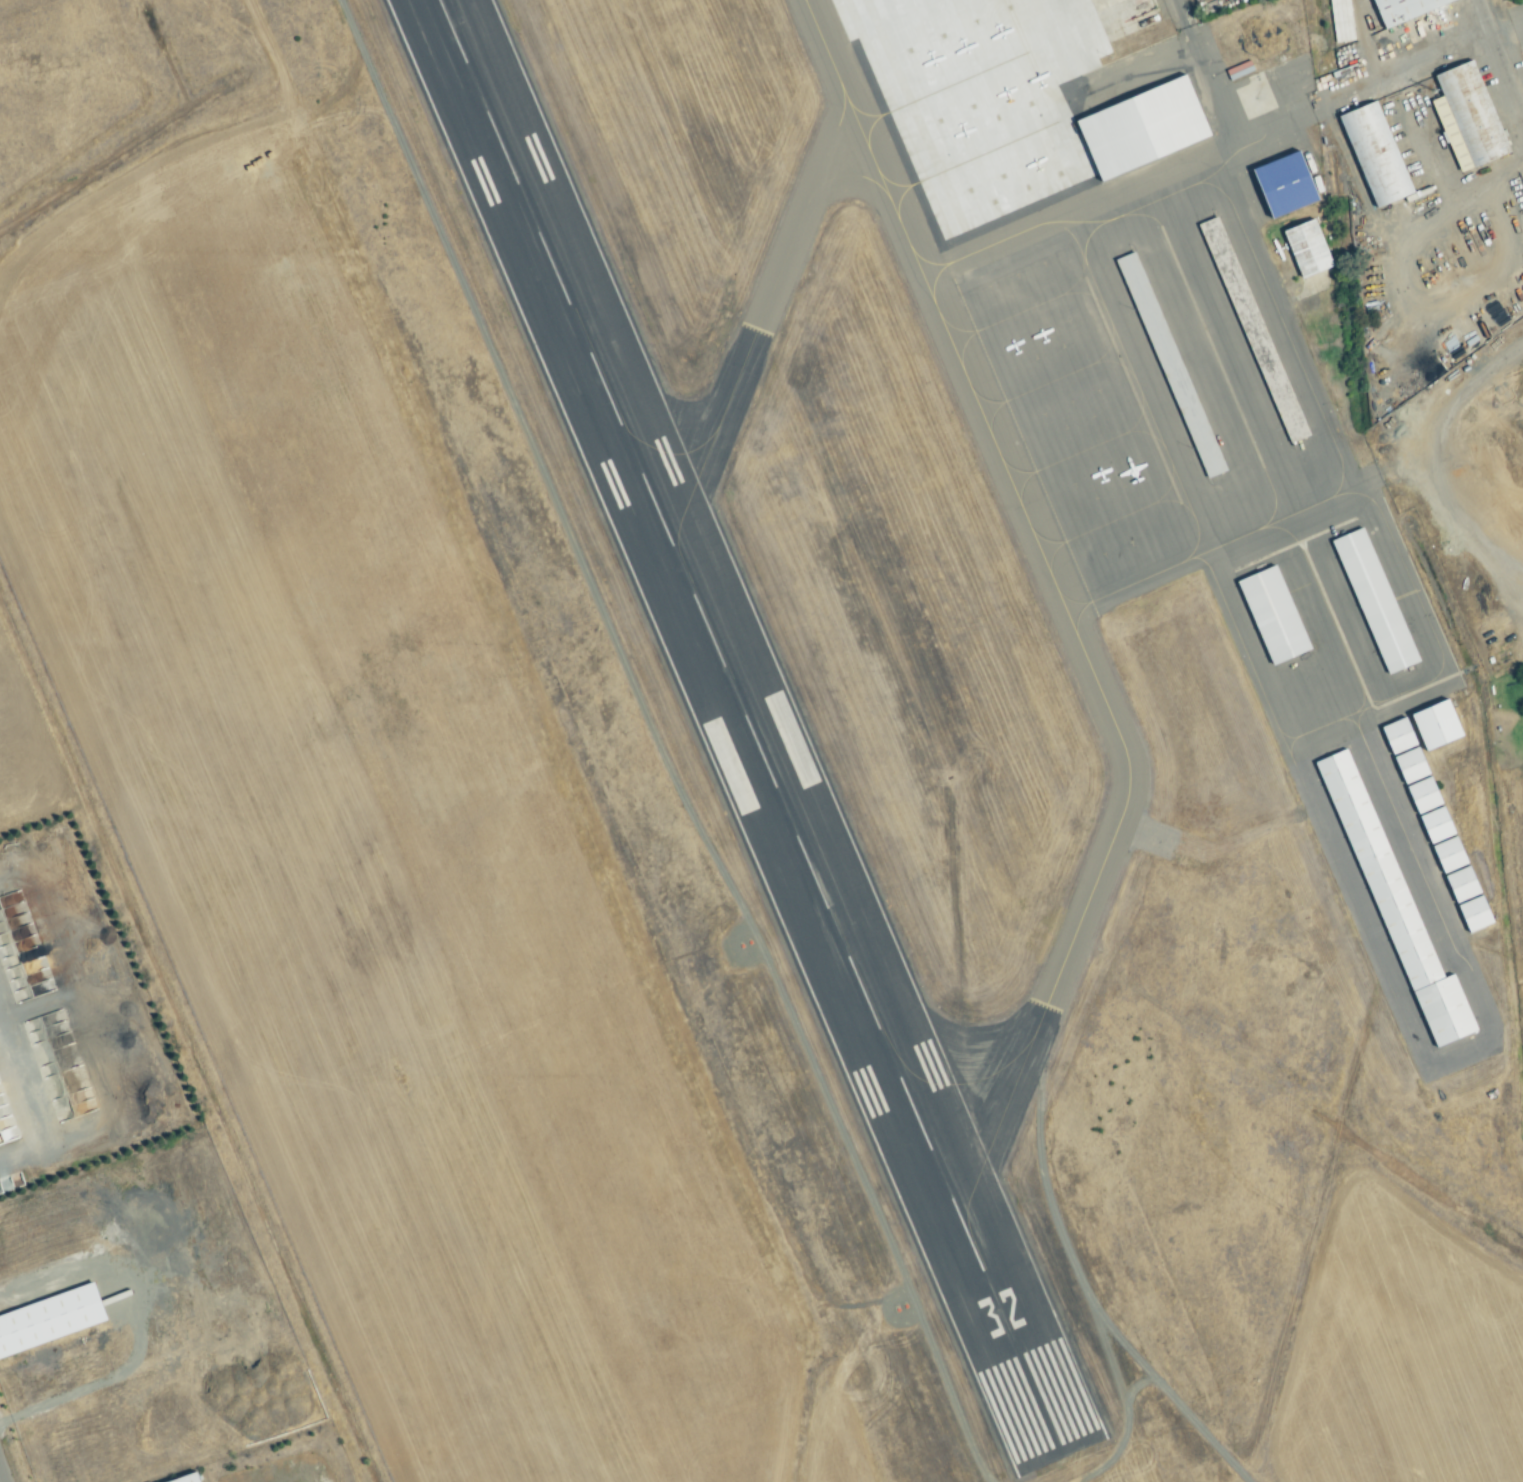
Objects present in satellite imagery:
building: (1399, 8)
building: (1341, 20)
road: (1433, 49)
road: (1499, 57)
road: (1208, 78)
building: (1465, 115)
airport hangar: (1138, 127)
building: (1138, 127)
building: (1373, 153)
airport hangar: (1280, 184)
building: (1280, 184)
airport hangar: (1305, 247)
building: (1305, 247)
airport taxiway: (757, 321)
airport hangar: (1251, 329)
building: (1251, 329)
airport hangar: (1169, 364)
building: (1169, 364)
airport apron: (1174, 421)
road: (1449, 464)
airport hangar: (1373, 601)
building: (1373, 601)
airport taxiway: (1061, 607)
airport hangar: (1270, 615)
building: (1270, 615)
airport runway: (744, 719)
airport hangar: (1433, 724)
building: (1433, 724)
airport hangar: (1396, 736)
building: (1396, 736)
road: (657, 744)
airport hangar: (1409, 765)
building: (1409, 765)
airport hangar: (1421, 795)
building: (1421, 795)
airport hangar: (1434, 824)
building: (1434, 824)
airport hangar: (1447, 854)
building: (1447, 854)
airport hangar: (1459, 884)
building: (1459, 884)
airport hangar: (1393, 903)
building: (1393, 903)
airport hangar: (1472, 914)
building: (1472, 914)
building: (7, 952)
road: (1093, 1305)
building: (47, 1319)
road: (1133, 1389)
road: (1122, 1397)
building: (186, 1479)
road: (0, 1481)

